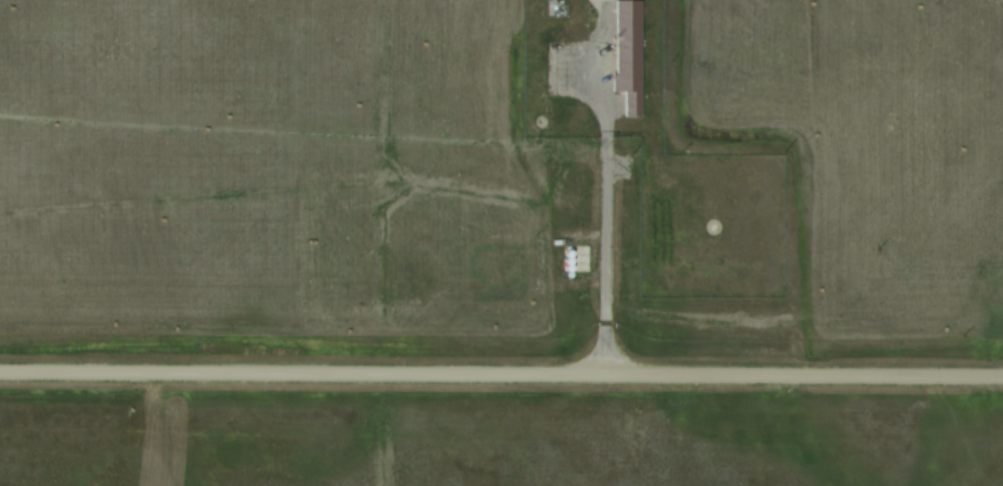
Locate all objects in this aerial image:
building: (624, 54)
road: (598, 221)
road: (501, 375)

